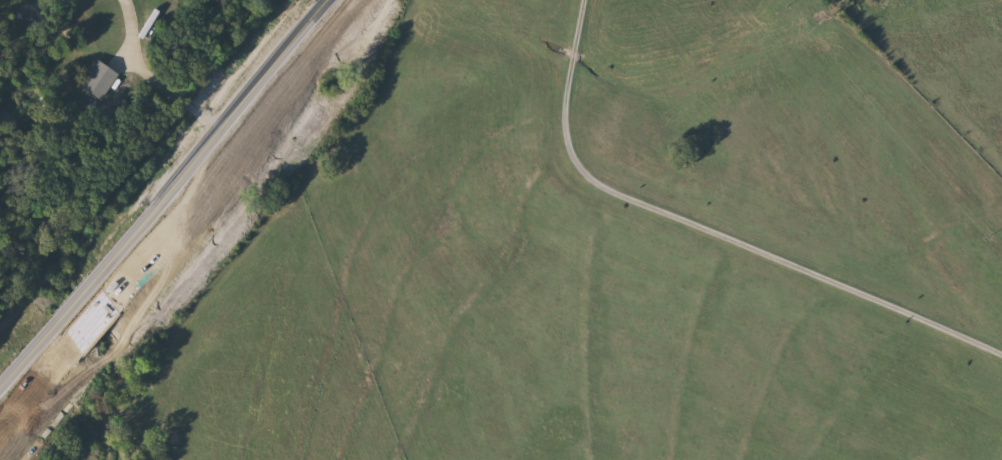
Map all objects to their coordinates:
road: (163, 76)
building: (101, 77)
road: (174, 195)
road: (717, 218)

